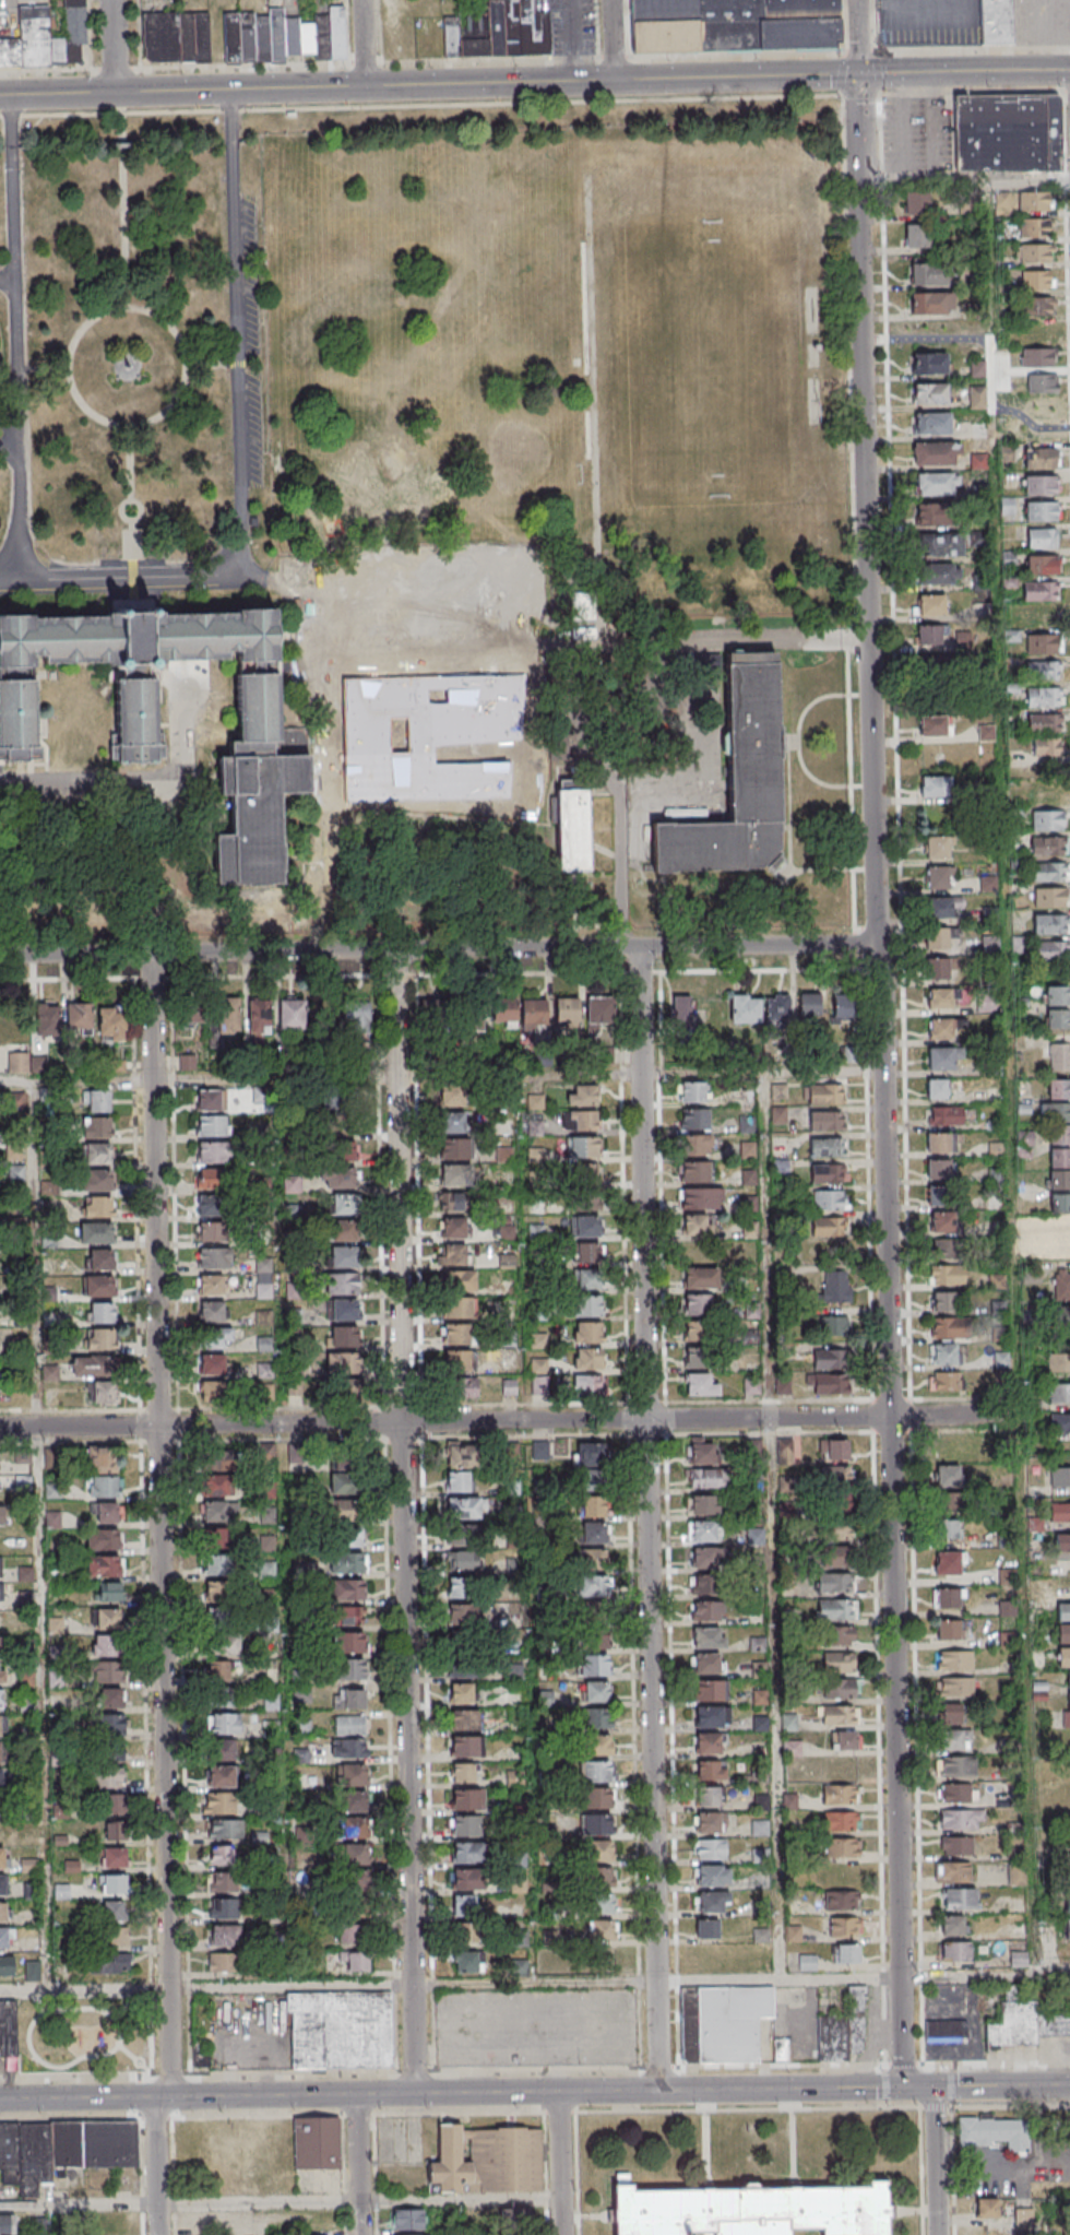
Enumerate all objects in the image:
parking lot: (1043, 21)
parking lot: (931, 22)
building: (1000, 22)
building: (737, 24)
parking lot: (575, 27)
building: (498, 31)
building: (336, 32)
building: (319, 36)
building: (177, 37)
building: (266, 37)
building: (46, 38)
road: (611, 39)
road: (362, 43)
road: (112, 46)
road: (535, 58)
traffic signals: (863, 74)
road: (534, 81)
road: (1069, 92)
road: (976, 93)
road: (864, 94)
road: (420, 106)
building: (1010, 132)
parking lot: (920, 134)
road: (965, 182)
building: (1033, 201)
building: (916, 202)
road: (128, 211)
building: (1033, 227)
building: (917, 236)
building: (1034, 252)
building: (928, 273)
building: (1037, 280)
road: (9, 281)
building: (931, 303)
building: (1039, 306)
road: (111, 310)
road: (20, 338)
parking lot: (248, 342)
building: (1038, 357)
road: (240, 358)
park: (718, 362)
building: (928, 363)
road: (215, 365)
road: (46, 368)
building: (1042, 385)
building: (931, 393)
building: (931, 424)
building: (1039, 434)
road: (11, 435)
road: (11, 448)
building: (936, 454)
building: (1039, 460)
road: (133, 463)
building: (936, 485)
building: (1041, 486)
building: (1041, 511)
building: (934, 516)
road: (134, 520)
building: (1042, 537)
building: (941, 546)
road: (135, 548)
building: (1042, 564)
building: (941, 573)
road: (128, 578)
road: (436, 584)
building: (1041, 590)
building: (930, 606)
building: (586, 616)
road: (415, 627)
building: (928, 635)
road: (825, 639)
building: (963, 641)
road: (625, 643)
building: (1043, 645)
road: (309, 653)
parking lot: (418, 666)
road: (522, 669)
road: (416, 670)
building: (1042, 671)
building: (1044, 697)
road: (428, 712)
building: (1044, 722)
building: (935, 725)
road: (701, 742)
building: (270, 745)
building: (1046, 745)
road: (430, 755)
road: (135, 776)
building: (736, 781)
parking lot: (40, 784)
building: (1045, 794)
building: (936, 797)
road: (623, 809)
building: (1047, 819)
building: (576, 830)
building: (439, 837)
building: (1048, 845)
building: (938, 848)
road: (336, 855)
building: (1049, 871)
building: (937, 878)
building: (988, 884)
building: (60, 885)
building: (1050, 897)
building: (939, 908)
building: (1050, 923)
building: (938, 938)
road: (441, 949)
building: (1051, 950)
building: (937, 969)
road: (885, 989)
building: (1056, 995)
building: (940, 998)
building: (809, 1004)
building: (986, 1005)
building: (844, 1006)
building: (777, 1008)
building: (748, 1010)
building: (599, 1012)
building: (688, 1012)
building: (427, 1013)
building: (503, 1013)
building: (293, 1014)
building: (533, 1014)
building: (567, 1014)
building: (79, 1015)
building: (356, 1015)
building: (259, 1016)
building: (191, 1017)
building: (223, 1017)
building: (47, 1019)
building: (1057, 1019)
building: (111, 1022)
building: (946, 1027)
building: (941, 1057)
building: (1059, 1057)
building: (25, 1062)
road: (442, 1073)
road: (1012, 1081)
building: (937, 1088)
building: (1058, 1089)
building: (692, 1091)
building: (824, 1093)
building: (452, 1095)
building: (585, 1095)
building: (99, 1100)
building: (210, 1100)
building: (1055, 1112)
building: (944, 1115)
building: (344, 1116)
building: (780, 1116)
building: (695, 1117)
building: (827, 1120)
building: (581, 1122)
building: (452, 1124)
building: (212, 1125)
building: (97, 1126)
building: (1059, 1135)
building: (938, 1142)
building: (697, 1144)
building: (827, 1146)
building: (583, 1147)
building: (453, 1148)
building: (995, 1150)
building: (211, 1152)
building: (97, 1154)
building: (533, 1155)
building: (1059, 1158)
building: (939, 1170)
road: (281, 1171)
building: (694, 1171)
building: (588, 1173)
building: (829, 1173)
building: (454, 1175)
building: (340, 1178)
building: (211, 1179)
building: (96, 1180)
building: (1058, 1180)
road: (646, 1183)
building: (937, 1196)
building: (701, 1197)
building: (453, 1201)
building: (829, 1201)
building: (344, 1204)
building: (1059, 1204)
building: (97, 1206)
building: (207, 1208)
building: (942, 1222)
building: (585, 1225)
building: (697, 1225)
building: (453, 1227)
building: (828, 1227)
building: (343, 1230)
building: (209, 1231)
building: (96, 1232)
building: (1062, 1239)
building: (944, 1249)
building: (588, 1252)
building: (453, 1253)
building: (342, 1256)
building: (98, 1258)
building: (212, 1258)
building: (948, 1276)
building: (1, 1277)
building: (587, 1278)
building: (700, 1278)
building: (460, 1281)
building: (342, 1282)
building: (211, 1285)
building: (1061, 1285)
building: (98, 1286)
building: (835, 1287)
building: (943, 1301)
building: (587, 1305)
building: (459, 1308)
building: (341, 1310)
building: (210, 1311)
building: (102, 1313)
building: (697, 1318)
building: (833, 1325)
building: (949, 1326)
building: (588, 1332)
building: (343, 1336)
building: (215, 1337)
building: (99, 1339)
building: (264, 1343)
building: (457, 1348)
building: (943, 1353)
building: (830, 1358)
building: (693, 1359)
building: (1000, 1359)
building: (591, 1360)
building: (1058, 1362)
building: (346, 1363)
building: (212, 1364)
building: (92, 1367)
building: (263, 1370)
building: (49, 1373)
building: (946, 1380)
building: (828, 1383)
building: (587, 1385)
building: (701, 1385)
building: (295, 1388)
building: (462, 1388)
building: (215, 1392)
building: (103, 1393)
building: (1059, 1393)
building: (346, 1394)
road: (510, 1421)
building: (1059, 1423)
building: (538, 1447)
building: (834, 1448)
building: (784, 1451)
road: (287, 1452)
building: (703, 1452)
building: (591, 1454)
building: (462, 1455)
building: (102, 1459)
building: (349, 1459)
building: (836, 1476)
building: (948, 1476)
building: (1060, 1476)
building: (704, 1478)
building: (457, 1480)
building: (216, 1482)
building: (347, 1483)
building: (102, 1487)
building: (703, 1505)
building: (594, 1506)
building: (464, 1507)
building: (345, 1509)
building: (1059, 1512)
building: (105, 1513)
building: (215, 1513)
building: (1, 1514)
road: (406, 1522)
road: (775, 1525)
building: (949, 1528)
building: (703, 1532)
building: (836, 1532)
building: (595, 1533)
road: (40, 1535)
building: (347, 1535)
building: (463, 1535)
building: (218, 1537)
building: (754, 1537)
building: (102, 1539)
building: (1061, 1541)
building: (834, 1557)
building: (706, 1559)
building: (463, 1561)
building: (347, 1562)
building: (949, 1562)
building: (104, 1565)
building: (218, 1566)
building: (836, 1584)
building: (592, 1585)
building: (703, 1585)
building: (1062, 1587)
building: (349, 1588)
building: (462, 1588)
building: (0, 1594)
building: (223, 1594)
road: (166, 1595)
building: (948, 1598)
building: (107, 1606)
building: (836, 1610)
building: (706, 1611)
building: (1062, 1611)
building: (464, 1613)
building: (348, 1615)
building: (1, 1620)
building: (224, 1625)
building: (949, 1630)
building: (592, 1633)
building: (1063, 1633)
building: (839, 1636)
building: (709, 1639)
building: (349, 1642)
building: (107, 1645)
building: (1, 1646)
building: (464, 1654)
building: (1063, 1657)
building: (955, 1662)
building: (839, 1663)
building: (709, 1664)
building: (594, 1665)
building: (349, 1668)
building: (2, 1672)
building: (107, 1672)
building: (1068, 1679)
building: (219, 1682)
building: (956, 1688)
building: (840, 1689)
building: (711, 1691)
building: (595, 1692)
building: (461, 1693)
building: (109, 1698)
building: (348, 1698)
building: (1, 1699)
building: (271, 1701)
building: (1066, 1710)
building: (951, 1713)
building: (840, 1715)
building: (712, 1716)
building: (464, 1719)
building: (596, 1719)
building: (349, 1724)
building: (0, 1726)
building: (225, 1733)
building: (953, 1740)
building: (846, 1741)
building: (708, 1743)
building: (466, 1746)
building: (597, 1746)
building: (348, 1748)
building: (0, 1752)
building: (108, 1753)
road: (653, 1754)
building: (843, 1767)
building: (955, 1767)
building: (711, 1770)
building: (596, 1771)
building: (463, 1772)
building: (1068, 1772)
building: (350, 1774)
building: (222, 1776)
building: (4, 1782)
building: (958, 1794)
building: (710, 1795)
building: (840, 1795)
building: (597, 1797)
building: (465, 1798)
building: (353, 1801)
building: (221, 1804)
building: (961, 1820)
building: (841, 1821)
road: (537, 1822)
building: (710, 1822)
building: (597, 1823)
building: (464, 1825)
building: (110, 1828)
building: (355, 1828)
building: (1, 1831)
building: (226, 1832)
building: (1066, 1837)
building: (956, 1846)
building: (711, 1848)
building: (841, 1848)
building: (597, 1850)
building: (468, 1852)
building: (356, 1856)
building: (1, 1857)
building: (111, 1858)
building: (1067, 1861)
building: (953, 1872)
building: (713, 1875)
building: (839, 1875)
building: (1016, 1875)
building: (597, 1877)
building: (467, 1879)
building: (223, 1881)
building: (2, 1884)
building: (112, 1885)
building: (356, 1890)
building: (960, 1900)
building: (713, 1901)
building: (841, 1902)
building: (598, 1904)
building: (466, 1906)
building: (1066, 1907)
building: (218, 1909)
building: (3, 1911)
building: (112, 1912)
building: (952, 1926)
building: (708, 1928)
building: (844, 1928)
building: (1066, 1929)
building: (603, 1930)
building: (794, 1934)
building: (354, 1935)
building: (224, 1936)
building: (5, 1937)
building: (114, 1938)
building: (955, 1952)
building: (846, 1954)
building: (1018, 1960)
building: (468, 1961)
building: (355, 1962)
building: (109, 1963)
building: (222, 1963)
building: (807, 1963)
building: (7, 1965)
building: (32, 1971)
road: (520, 1985)
building: (1024, 2024)
building: (728, 2026)
building: (8, 2027)
building: (843, 2029)
building: (340, 2030)
building: (946, 2030)
road: (900, 2033)
park: (83, 2034)
building: (202, 2058)
road: (812, 2071)
road: (276, 2078)
road: (1001, 2086)
traffic signals: (901, 2088)
road: (916, 2088)
traffic signals: (932, 2088)
road: (780, 2089)
road: (329, 2095)
building: (1001, 2133)
building: (318, 2144)
building: (62, 2150)
road: (934, 2161)
building: (488, 2163)
road: (560, 2163)
road: (356, 2165)
road: (280, 2202)
building: (987, 2207)
building: (751, 2211)
road: (264, 2219)
building: (407, 2220)
building: (7, 2223)
building: (112, 2223)
building: (205, 2223)

